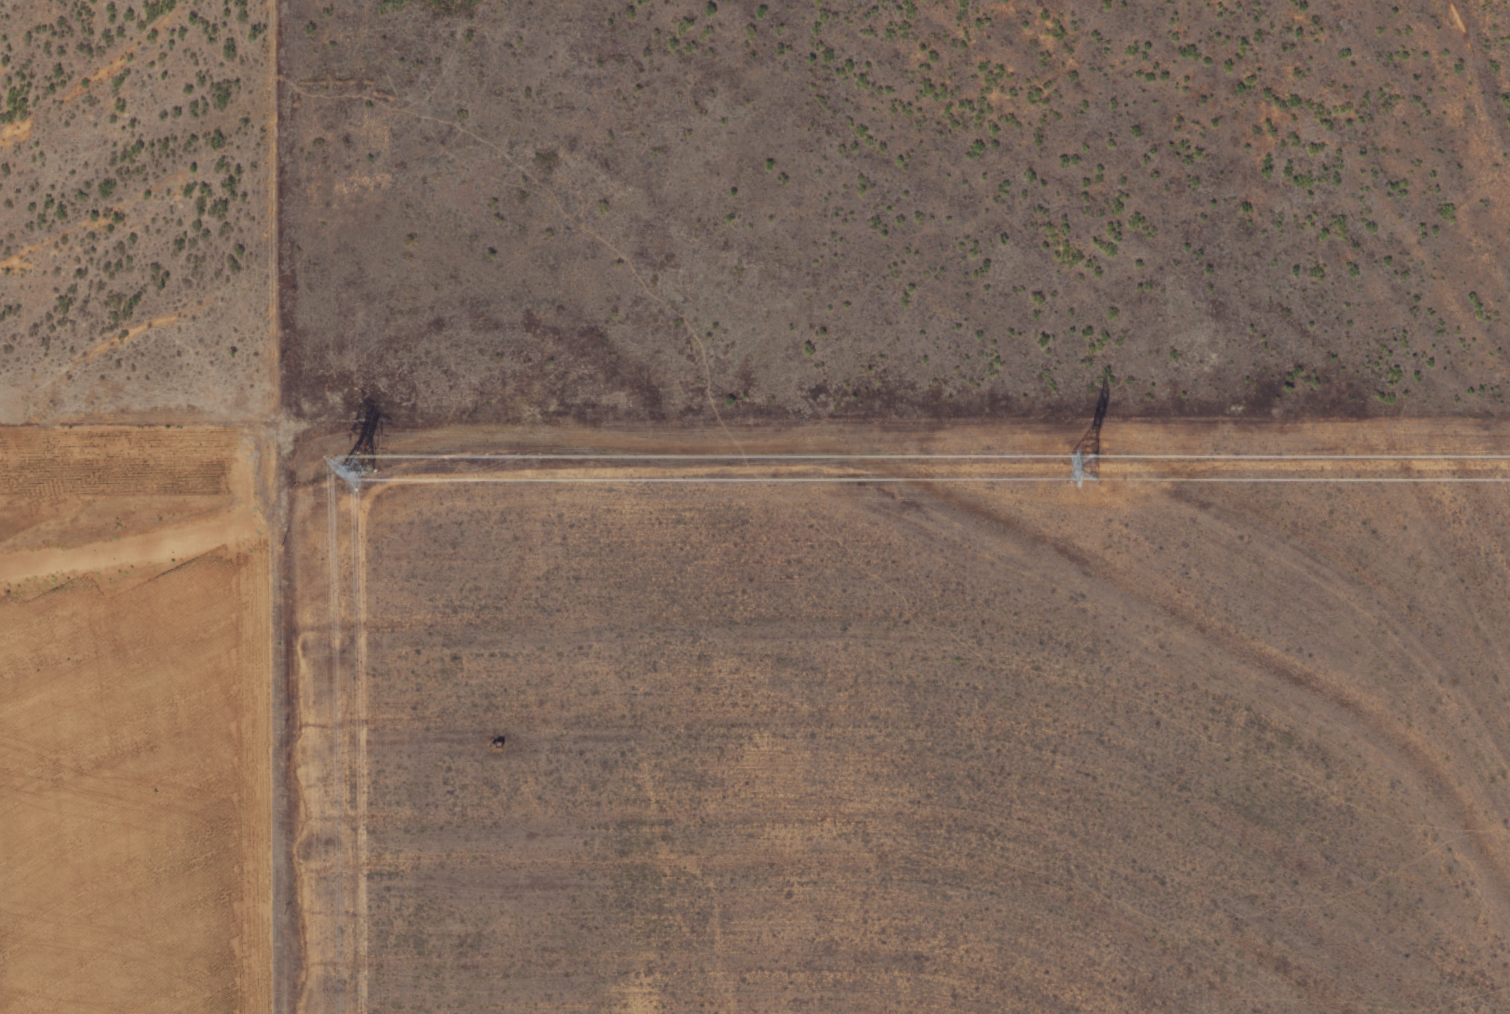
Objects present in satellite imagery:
power tower: (1082, 467)
power tower: (352, 470)

